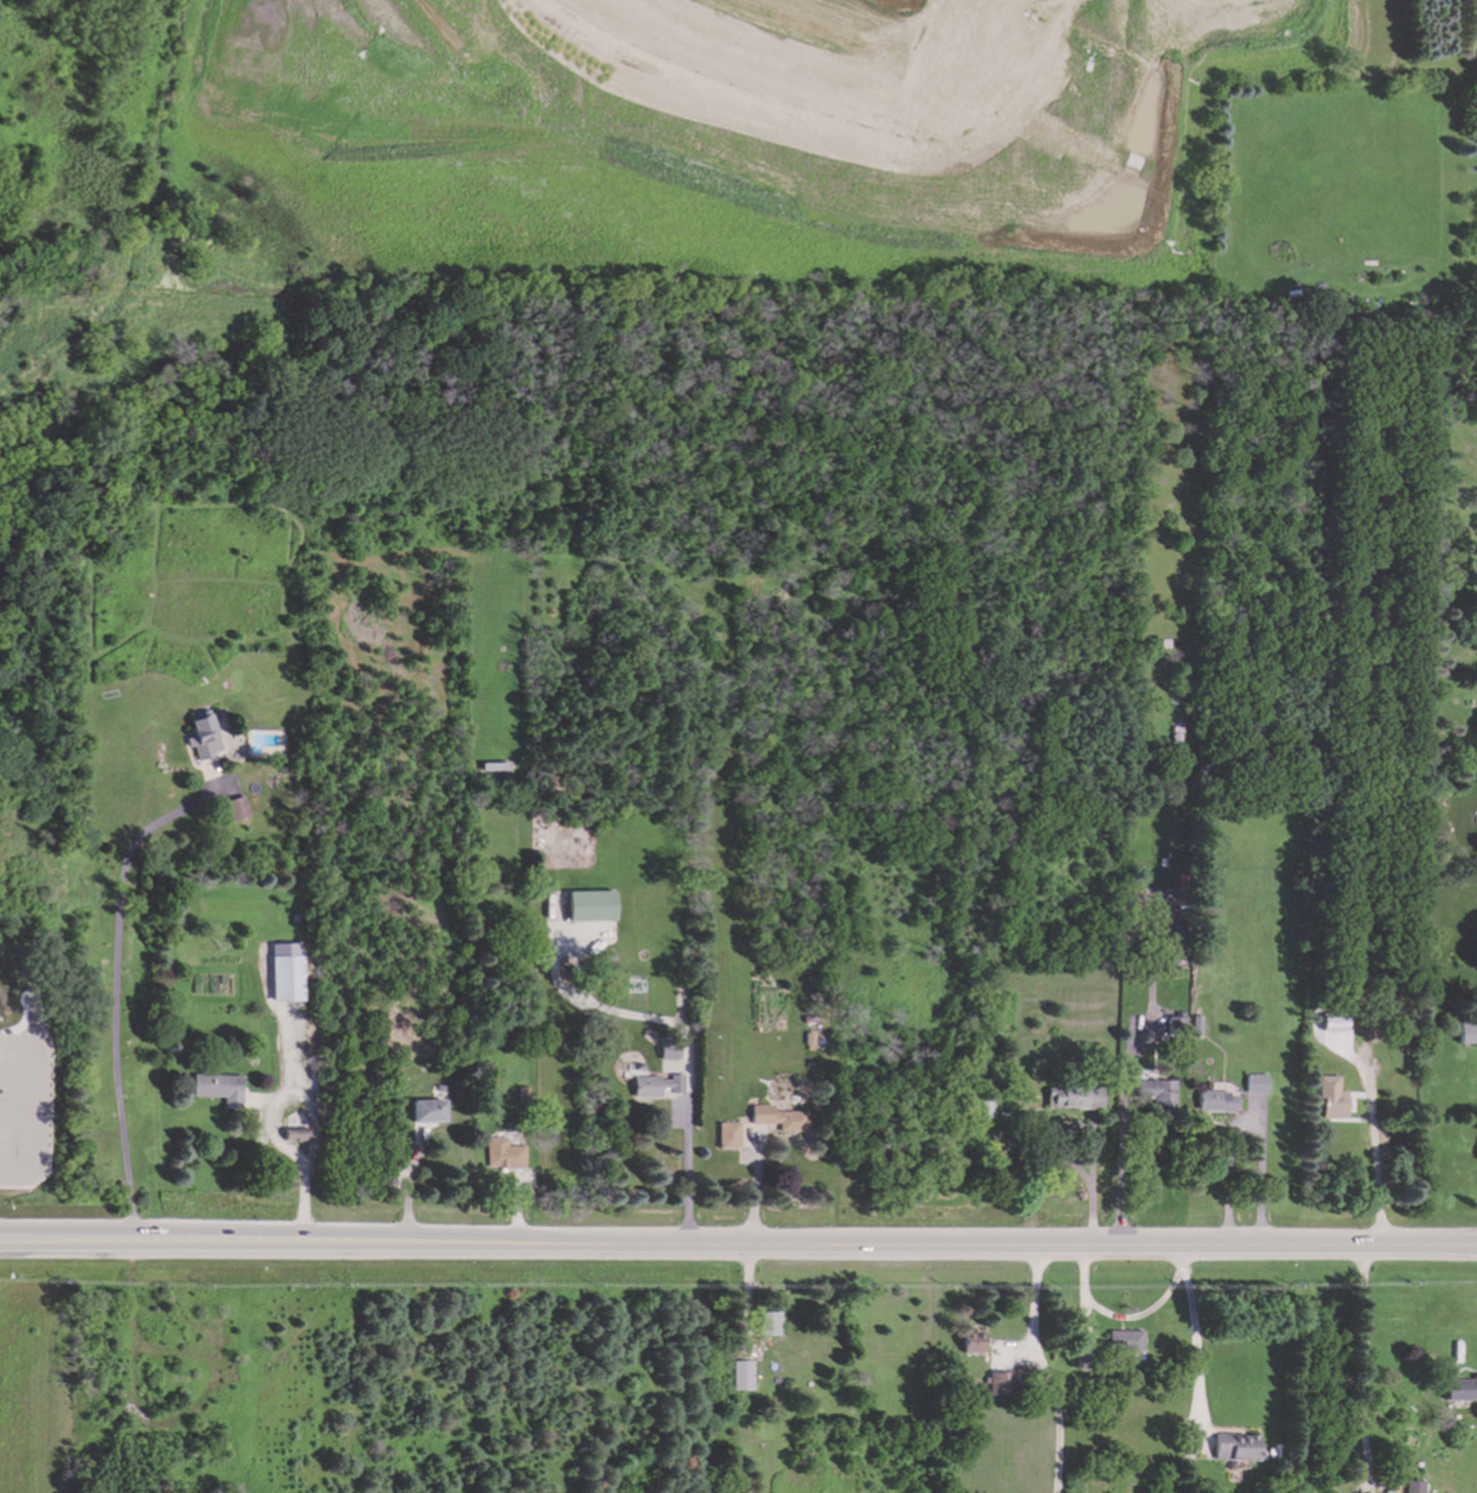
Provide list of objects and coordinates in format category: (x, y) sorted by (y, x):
road: (1031, 64)
road: (762, 99)
building: (204, 737)
building: (237, 809)
building: (591, 907)
building: (287, 973)
road: (116, 989)
building: (1332, 1024)
building: (1176, 1026)
building: (1196, 1026)
building: (1467, 1033)
building: (669, 1050)
building: (1256, 1084)
building: (656, 1086)
building: (219, 1089)
building: (1157, 1093)
building: (1331, 1098)
building: (1076, 1099)
building: (1216, 1102)
road: (1125, 1108)
building: (985, 1109)
building: (428, 1112)
building: (780, 1119)
road: (1246, 1122)
road: (1092, 1134)
road: (34, 1135)
road: (279, 1136)
building: (730, 1136)
road: (1375, 1145)
building: (505, 1155)
road: (691, 1162)
road: (755, 1186)
road: (411, 1187)
road: (66, 1242)
road: (217, 1242)
road: (889, 1243)
road: (1126, 1317)
building: (768, 1324)
road: (1196, 1335)
building: (1125, 1341)
building: (973, 1342)
road: (1365, 1362)
road: (1044, 1368)
quarry: (1267, 1374)
building: (742, 1376)
building: (1001, 1384)
building: (1460, 1390)
building: (1235, 1448)
building: (1413, 1487)

